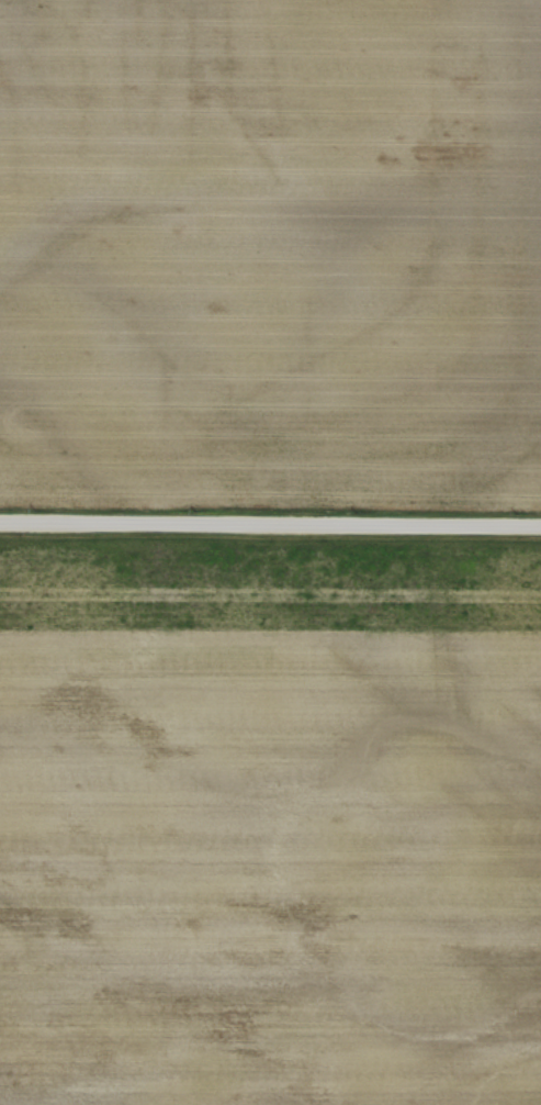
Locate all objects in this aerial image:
road: (270, 524)

